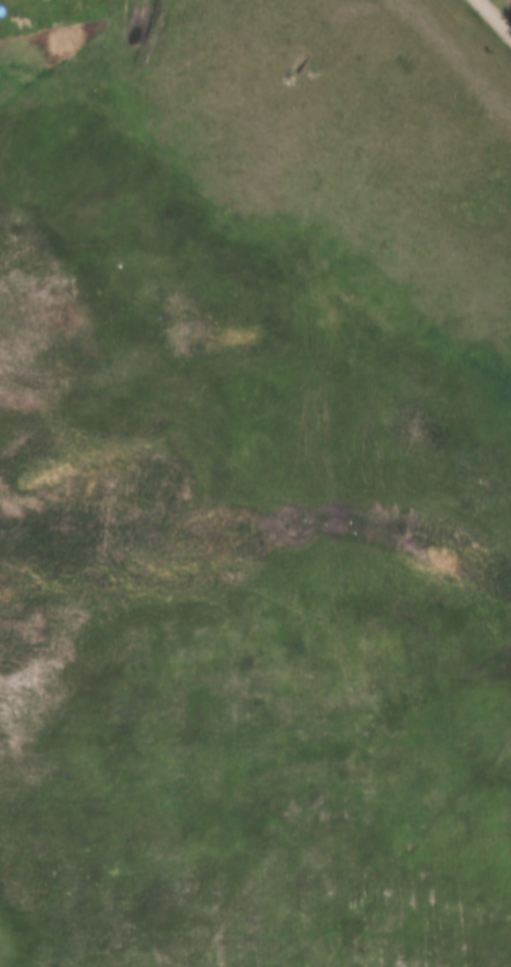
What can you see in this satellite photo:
road: (496, 15)

